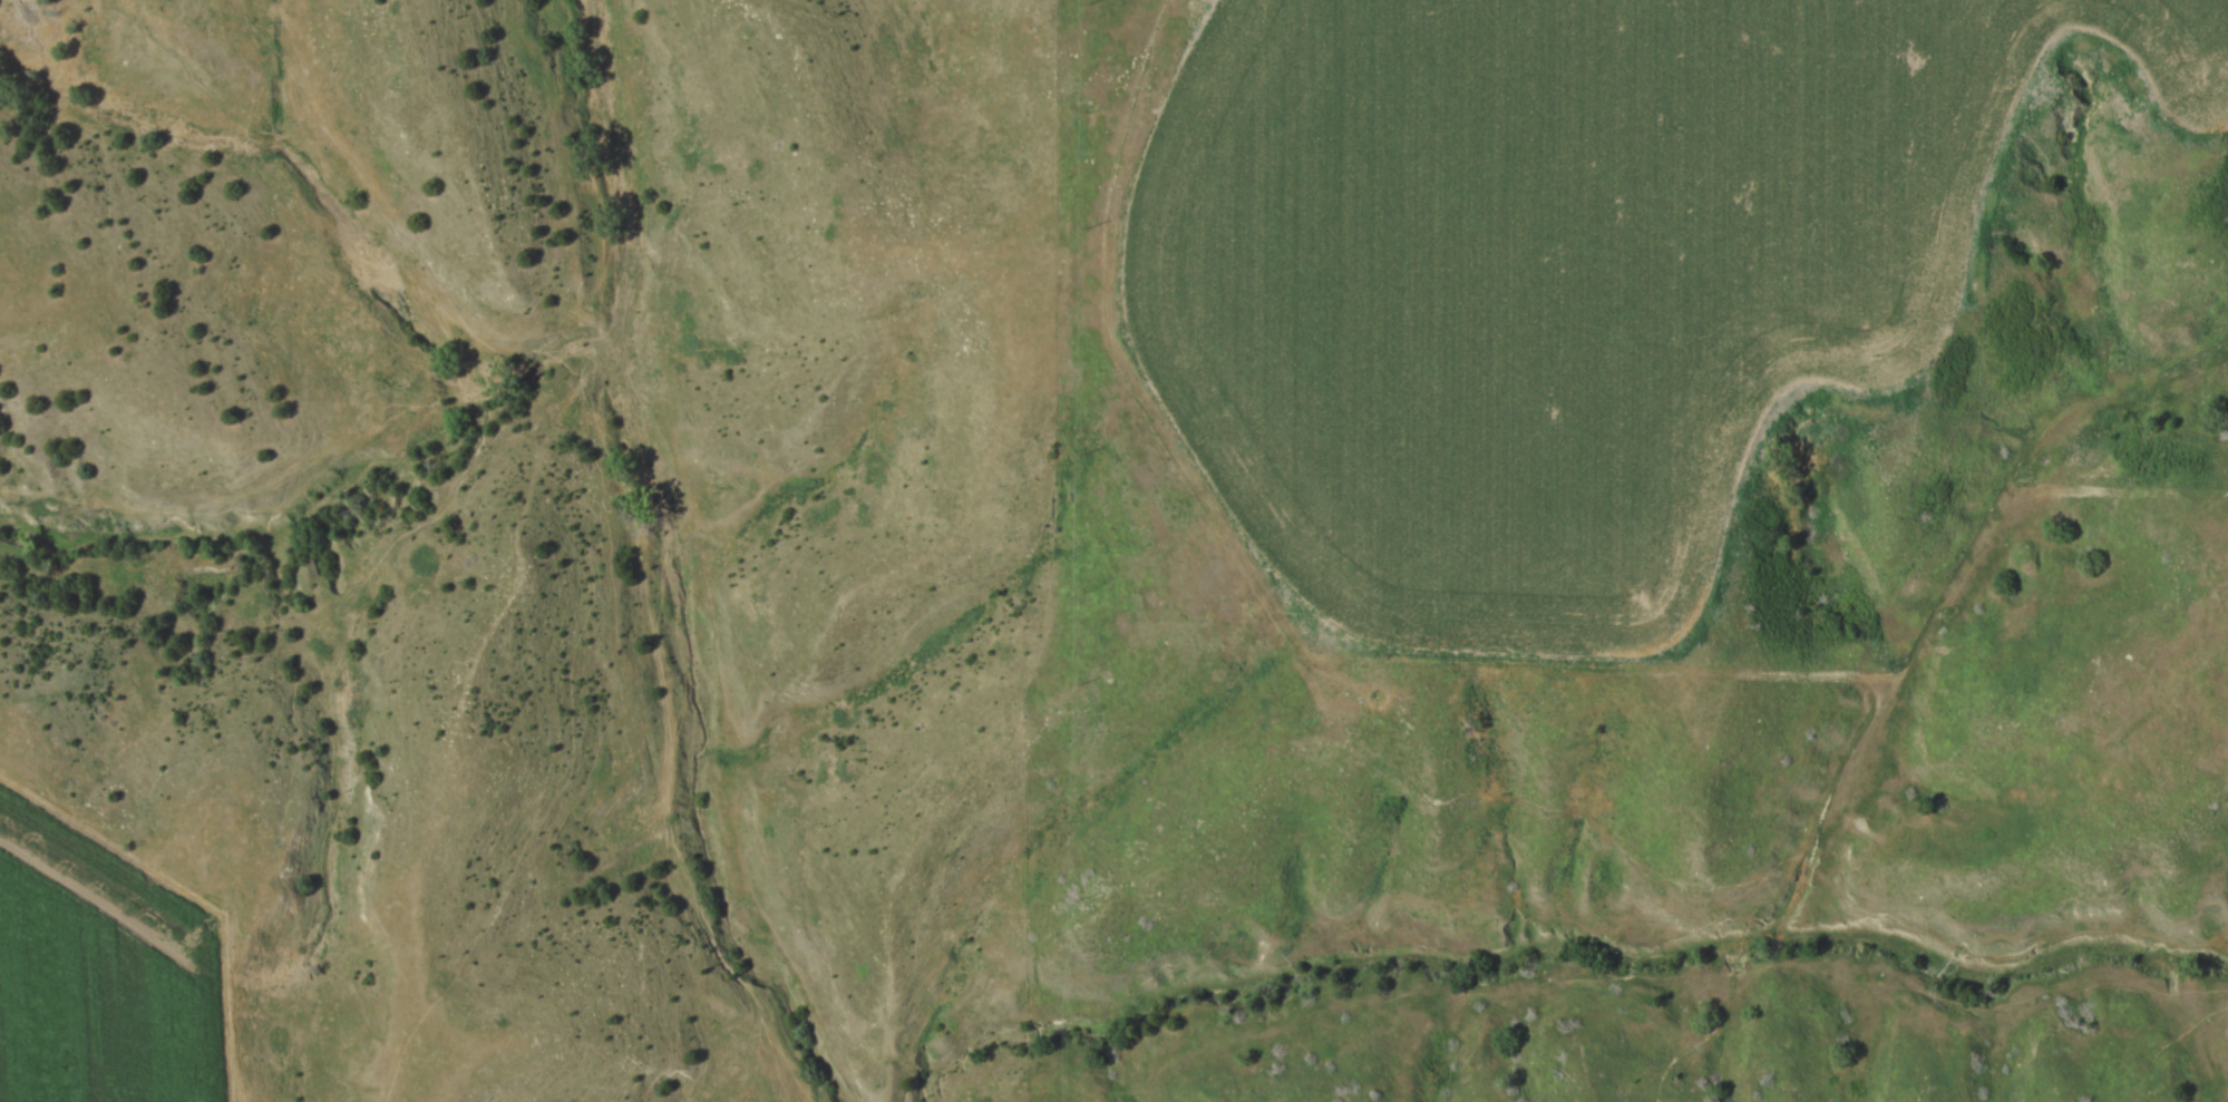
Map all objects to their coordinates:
crop: (2173, 48)
crop: (1548, 275)

